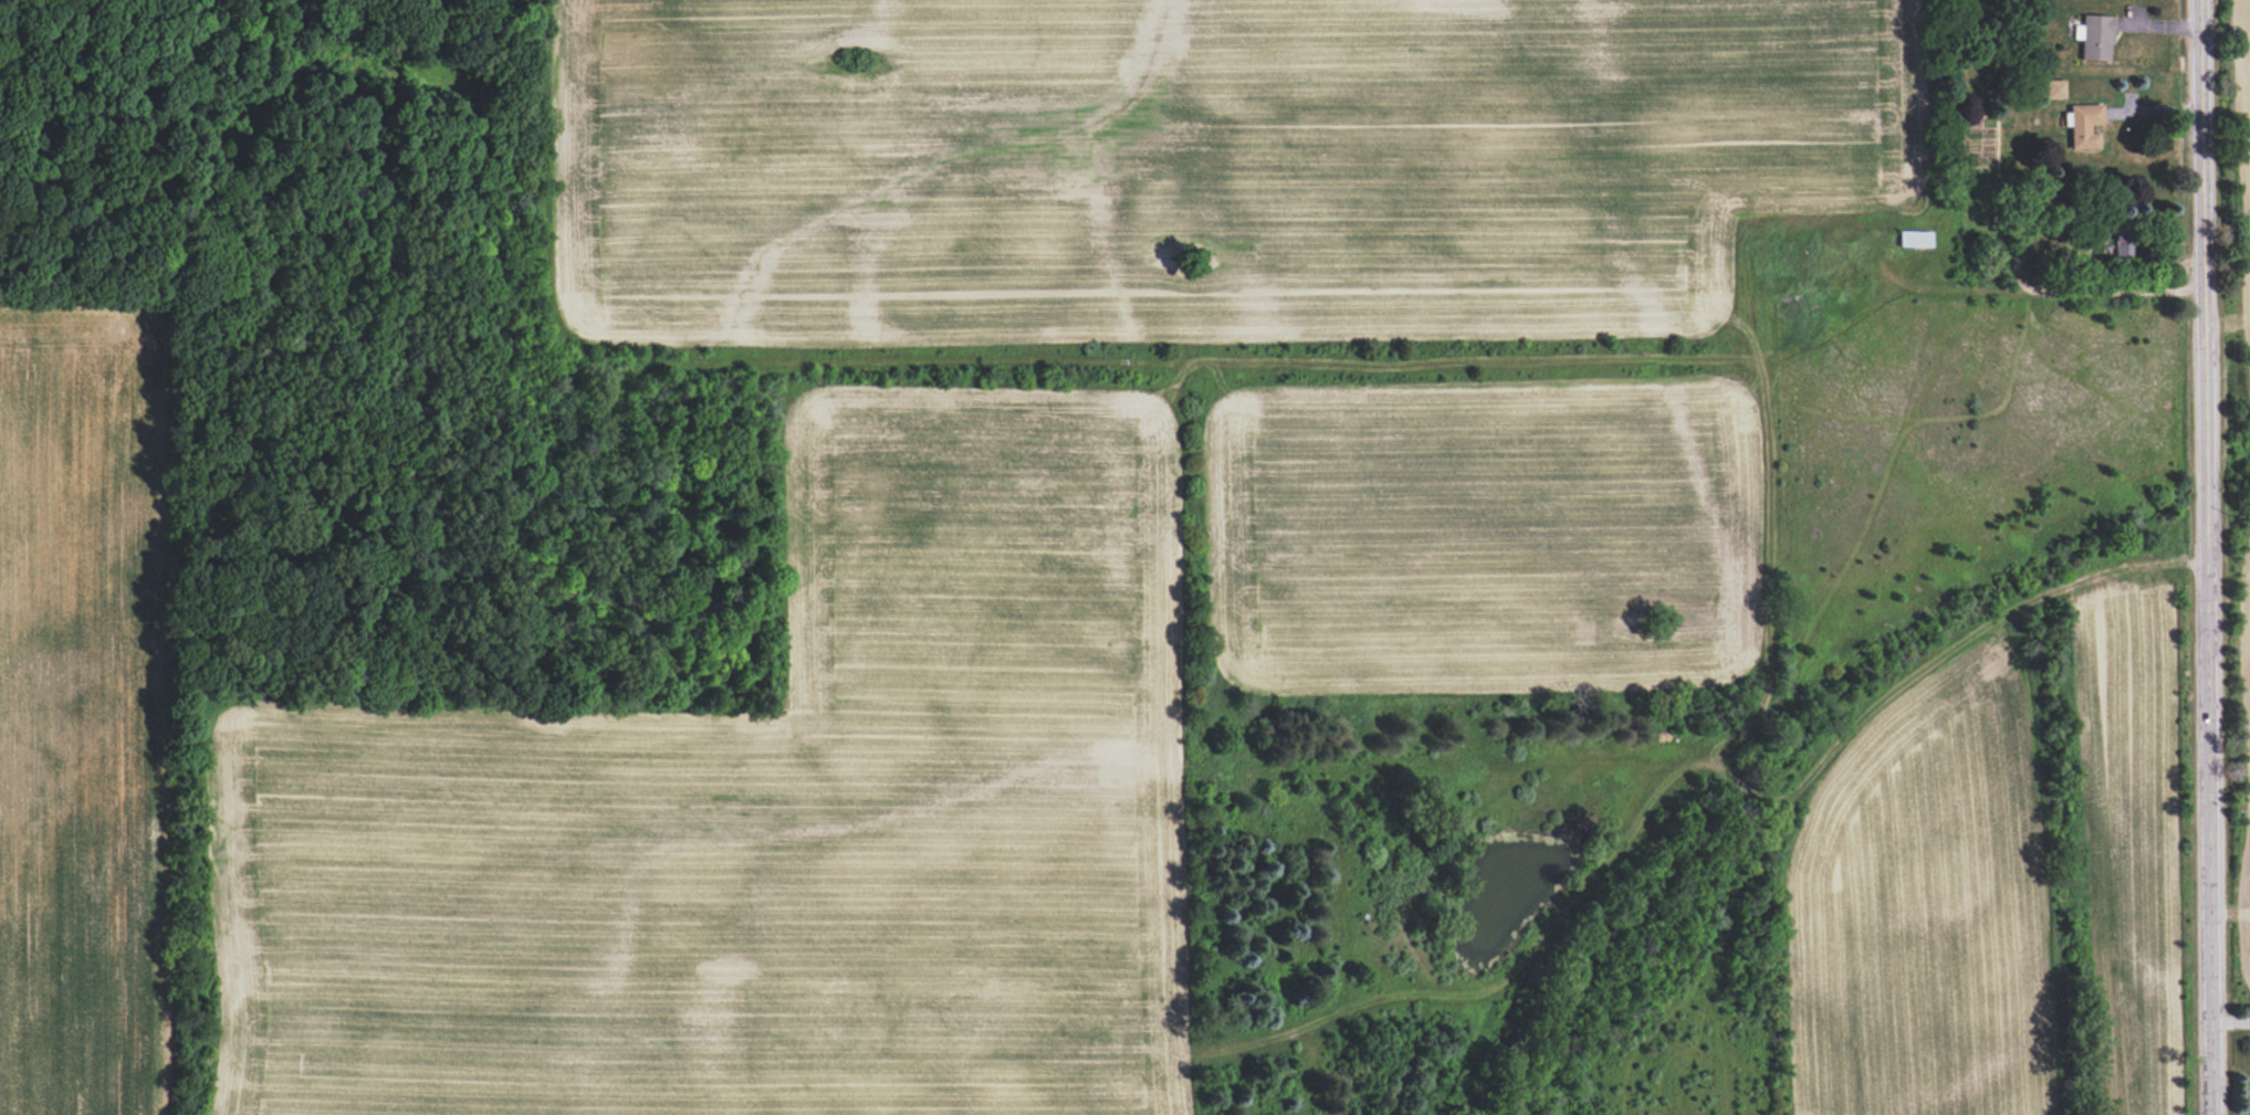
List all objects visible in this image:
building: (2094, 38)
building: (2054, 90)
building: (2084, 125)
building: (1914, 239)
building: (2122, 239)
road: (2057, 291)
crop: (934, 543)
road: (2206, 557)
crop: (2013, 895)

